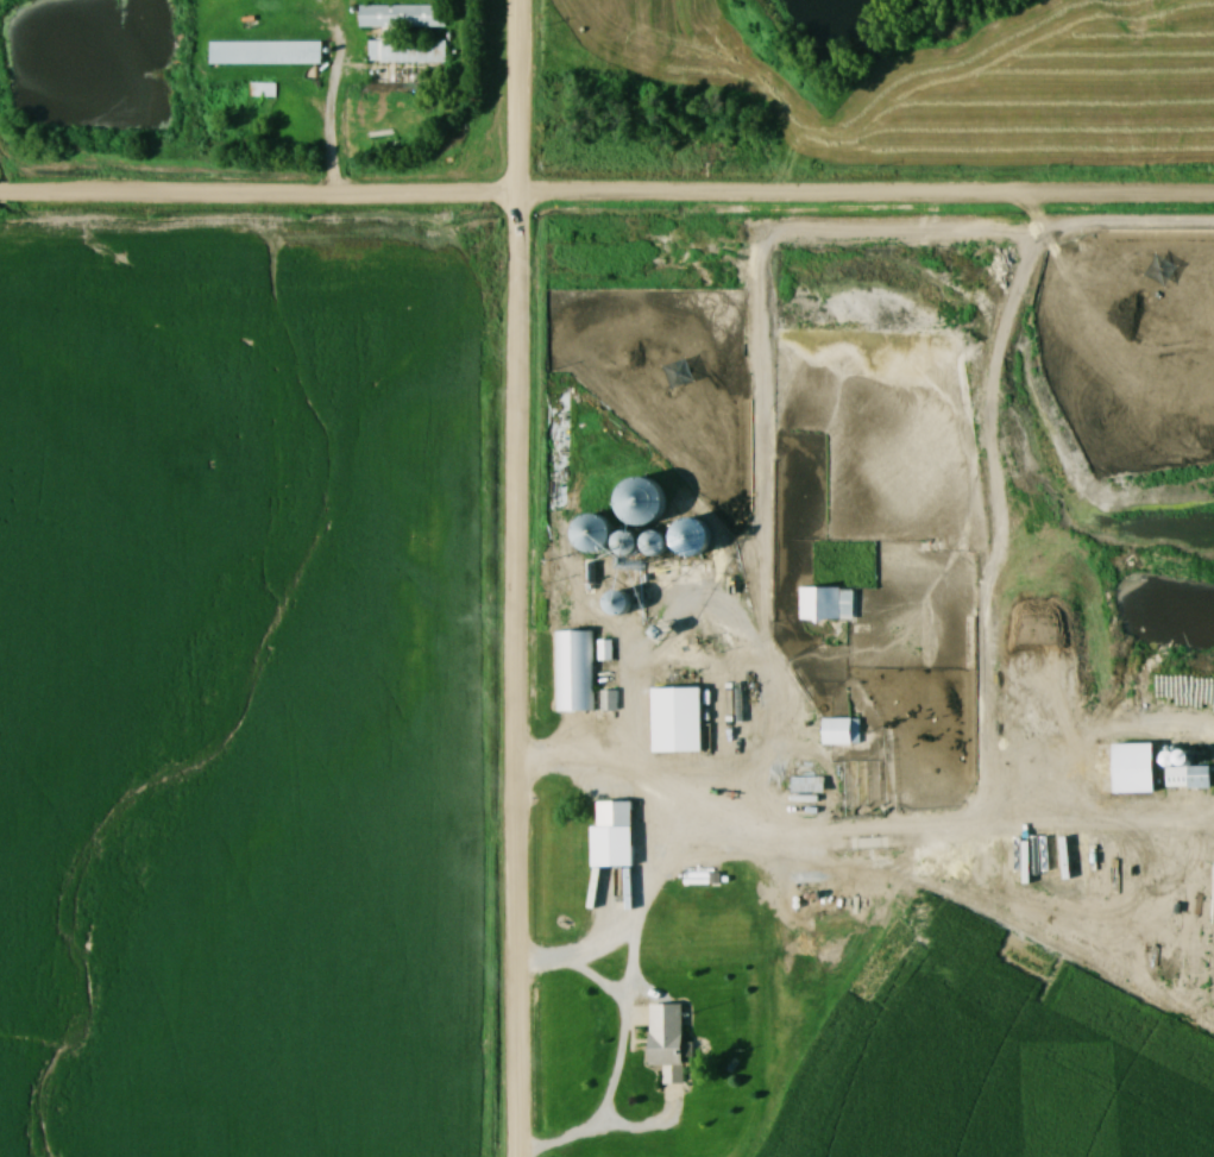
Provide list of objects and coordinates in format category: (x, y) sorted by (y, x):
building: (389, 34)
building: (266, 54)
road: (606, 194)
building: (642, 502)
building: (596, 534)
building: (692, 537)
building: (629, 543)
building: (658, 545)
building: (611, 573)
road: (514, 578)
building: (621, 603)
building: (828, 605)
building: (742, 624)
building: (665, 625)
building: (606, 652)
building: (575, 672)
building: (718, 706)
building: (679, 721)
building: (842, 731)
building: (1188, 773)
building: (809, 797)
building: (615, 836)
building: (668, 1043)

